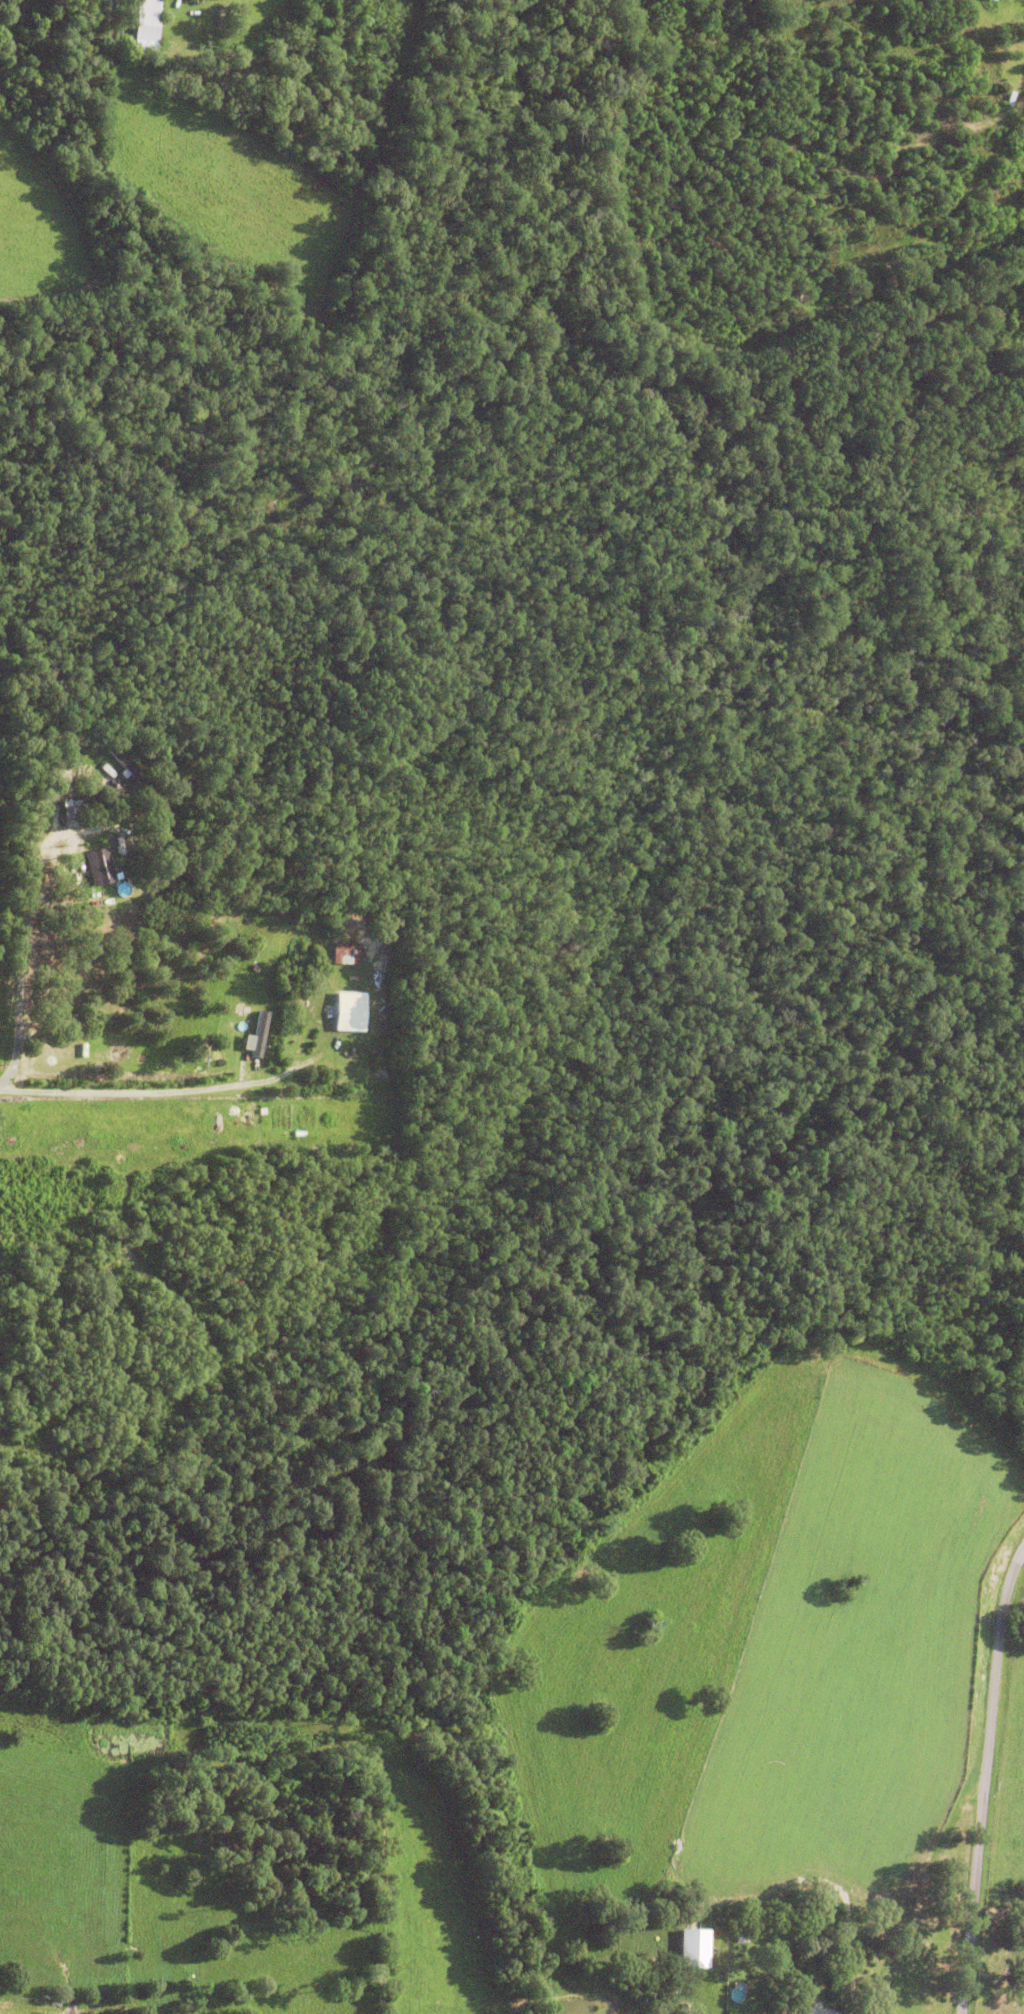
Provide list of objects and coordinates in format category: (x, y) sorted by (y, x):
building: (989, 0)
building: (145, 17)
building: (918, 266)
building: (903, 267)
building: (887, 277)
building: (849, 284)
building: (122, 759)
building: (175, 786)
building: (71, 810)
building: (98, 863)
building: (79, 874)
building: (345, 951)
building: (242, 1007)
building: (349, 1009)
road: (324, 1024)
building: (261, 1032)
road: (146, 1090)
road: (979, 1776)
building: (764, 1927)
building: (741, 1937)
building: (795, 1938)
building: (867, 1940)
building: (693, 1948)
road: (845, 1980)
building: (783, 2011)

